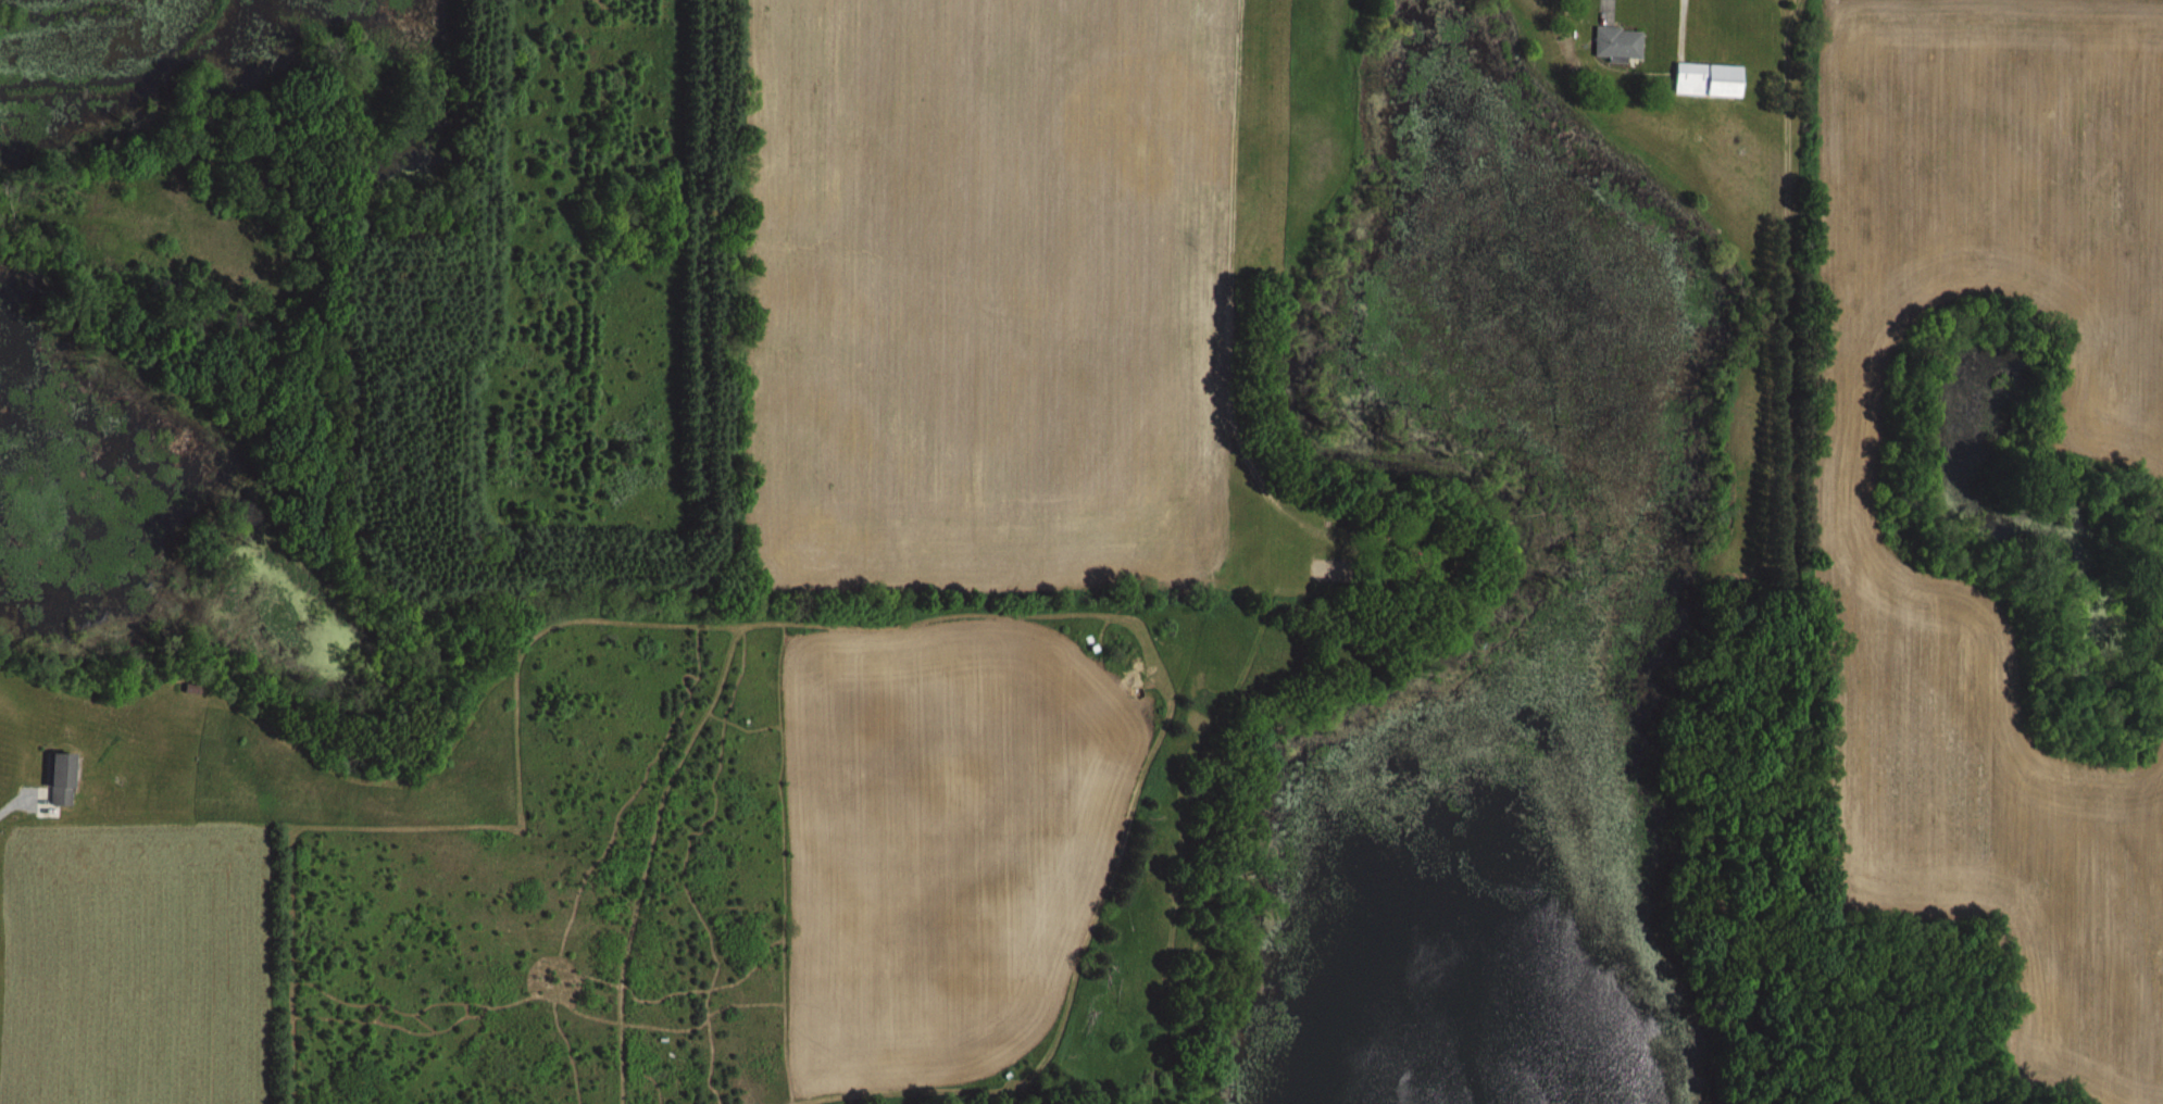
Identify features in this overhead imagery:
building: (1621, 42)
building: (1711, 79)
building: (64, 779)

